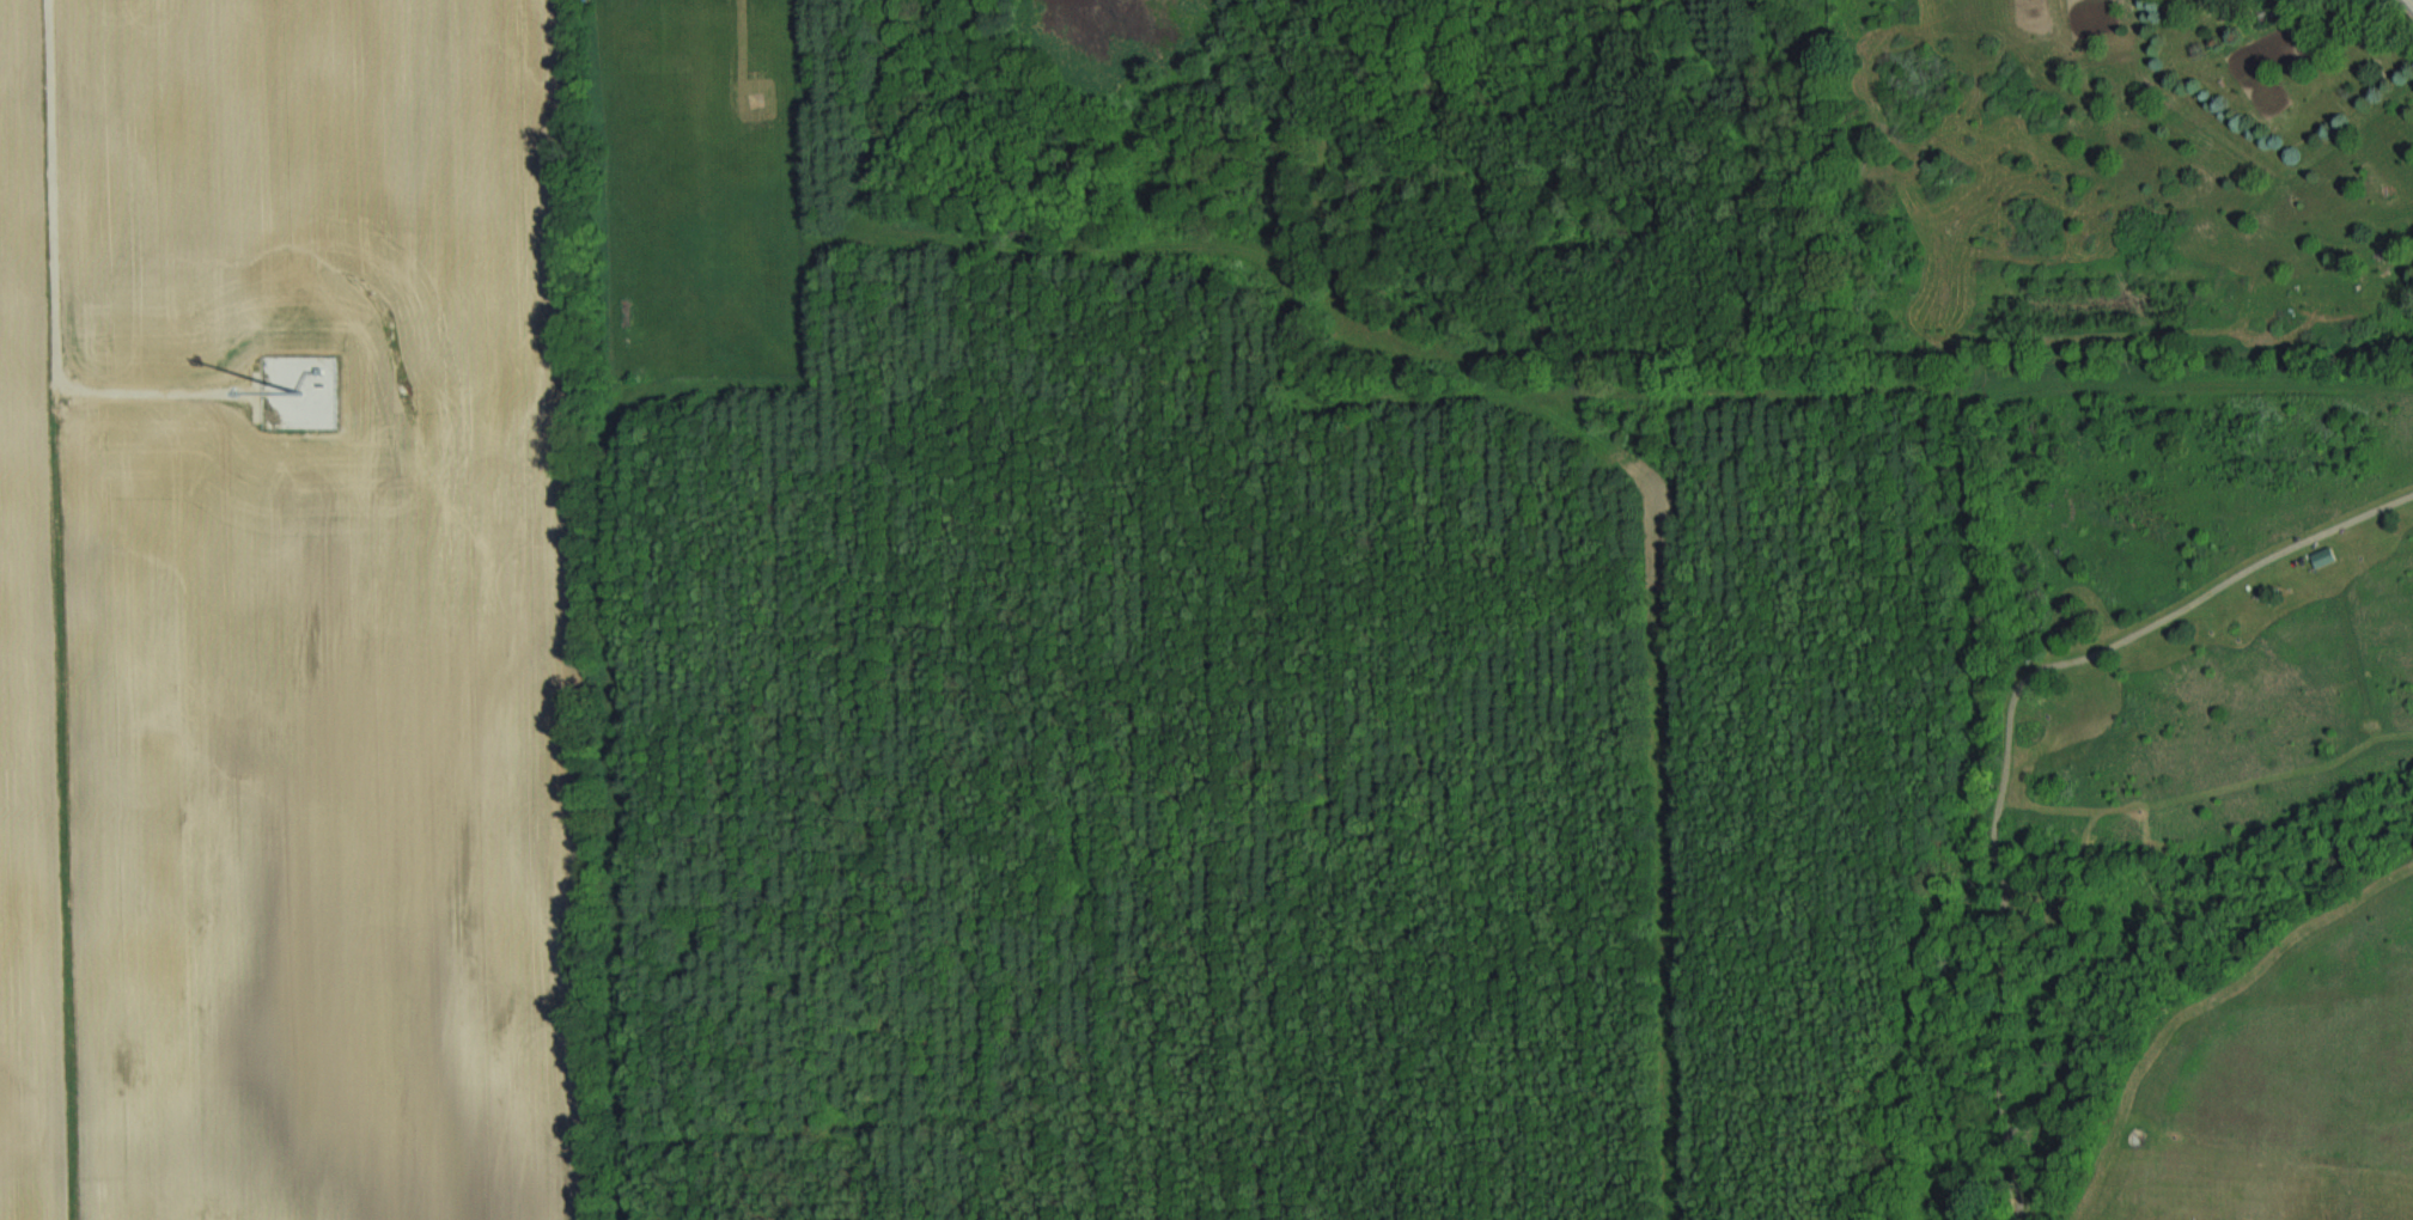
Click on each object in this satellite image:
road: (2409, 4)

